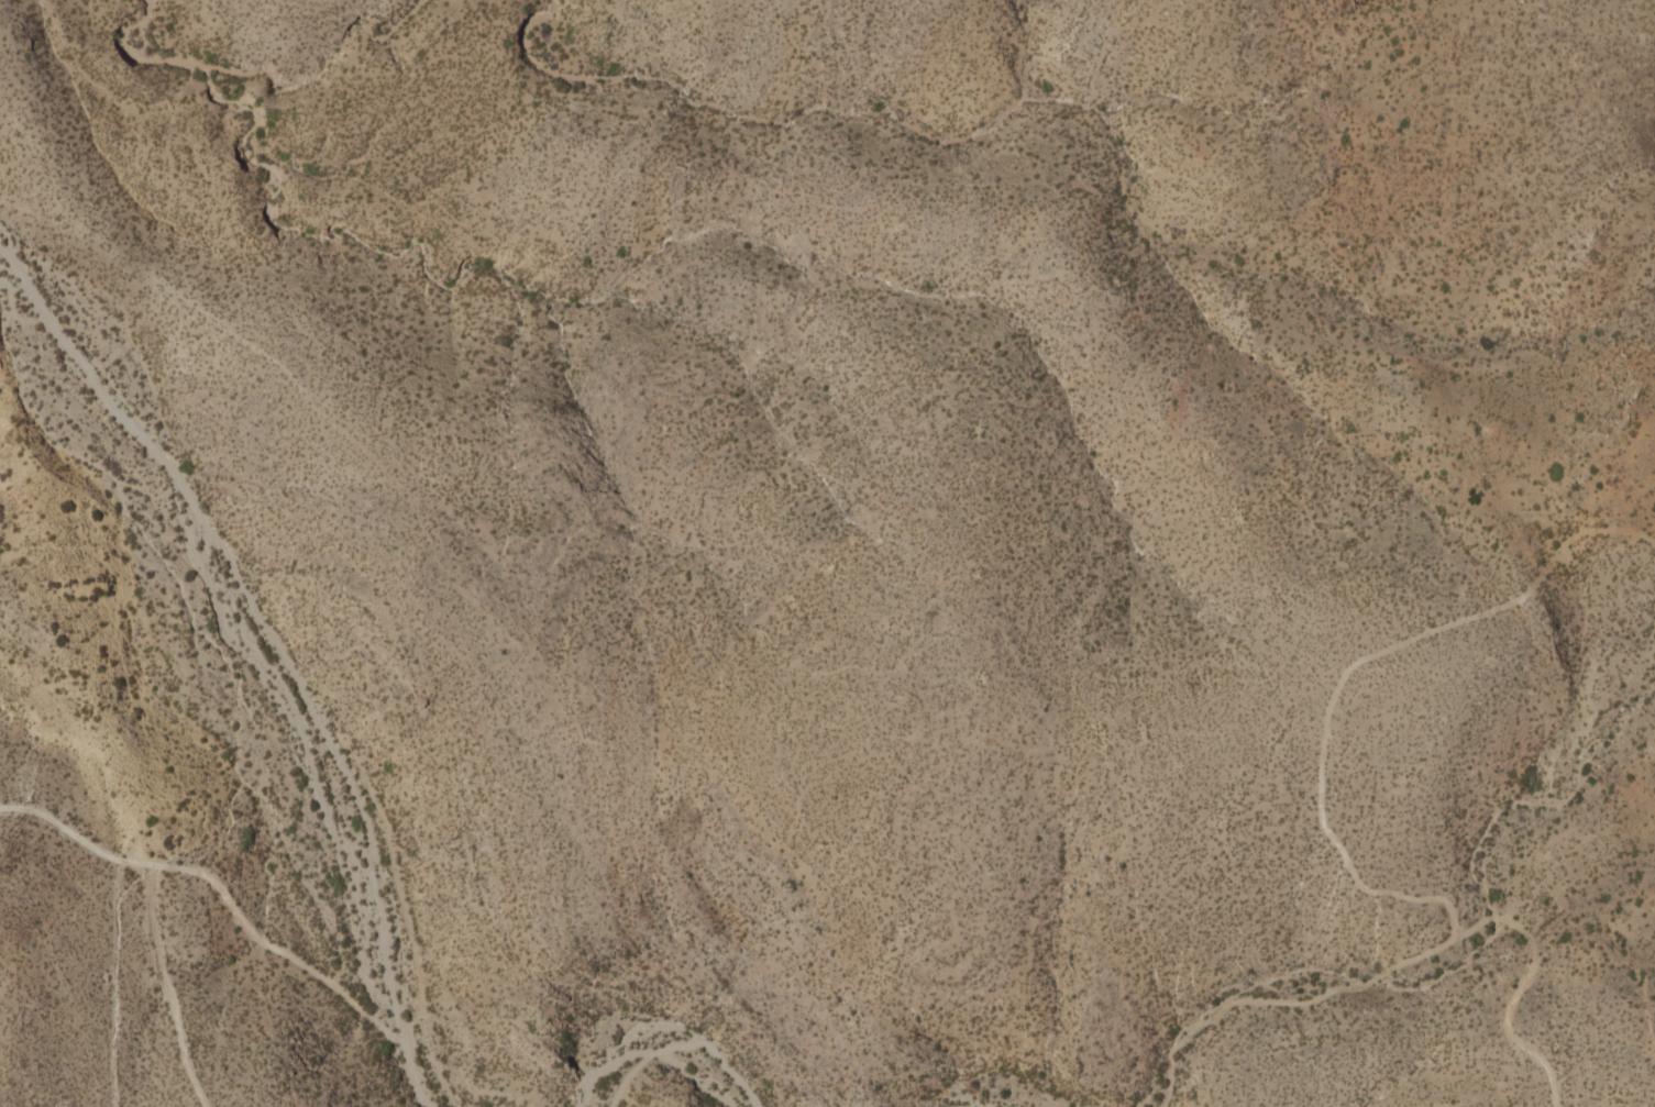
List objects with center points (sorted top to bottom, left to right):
road: (258, 653)
road: (210, 878)
road: (167, 988)
road: (686, 1042)

